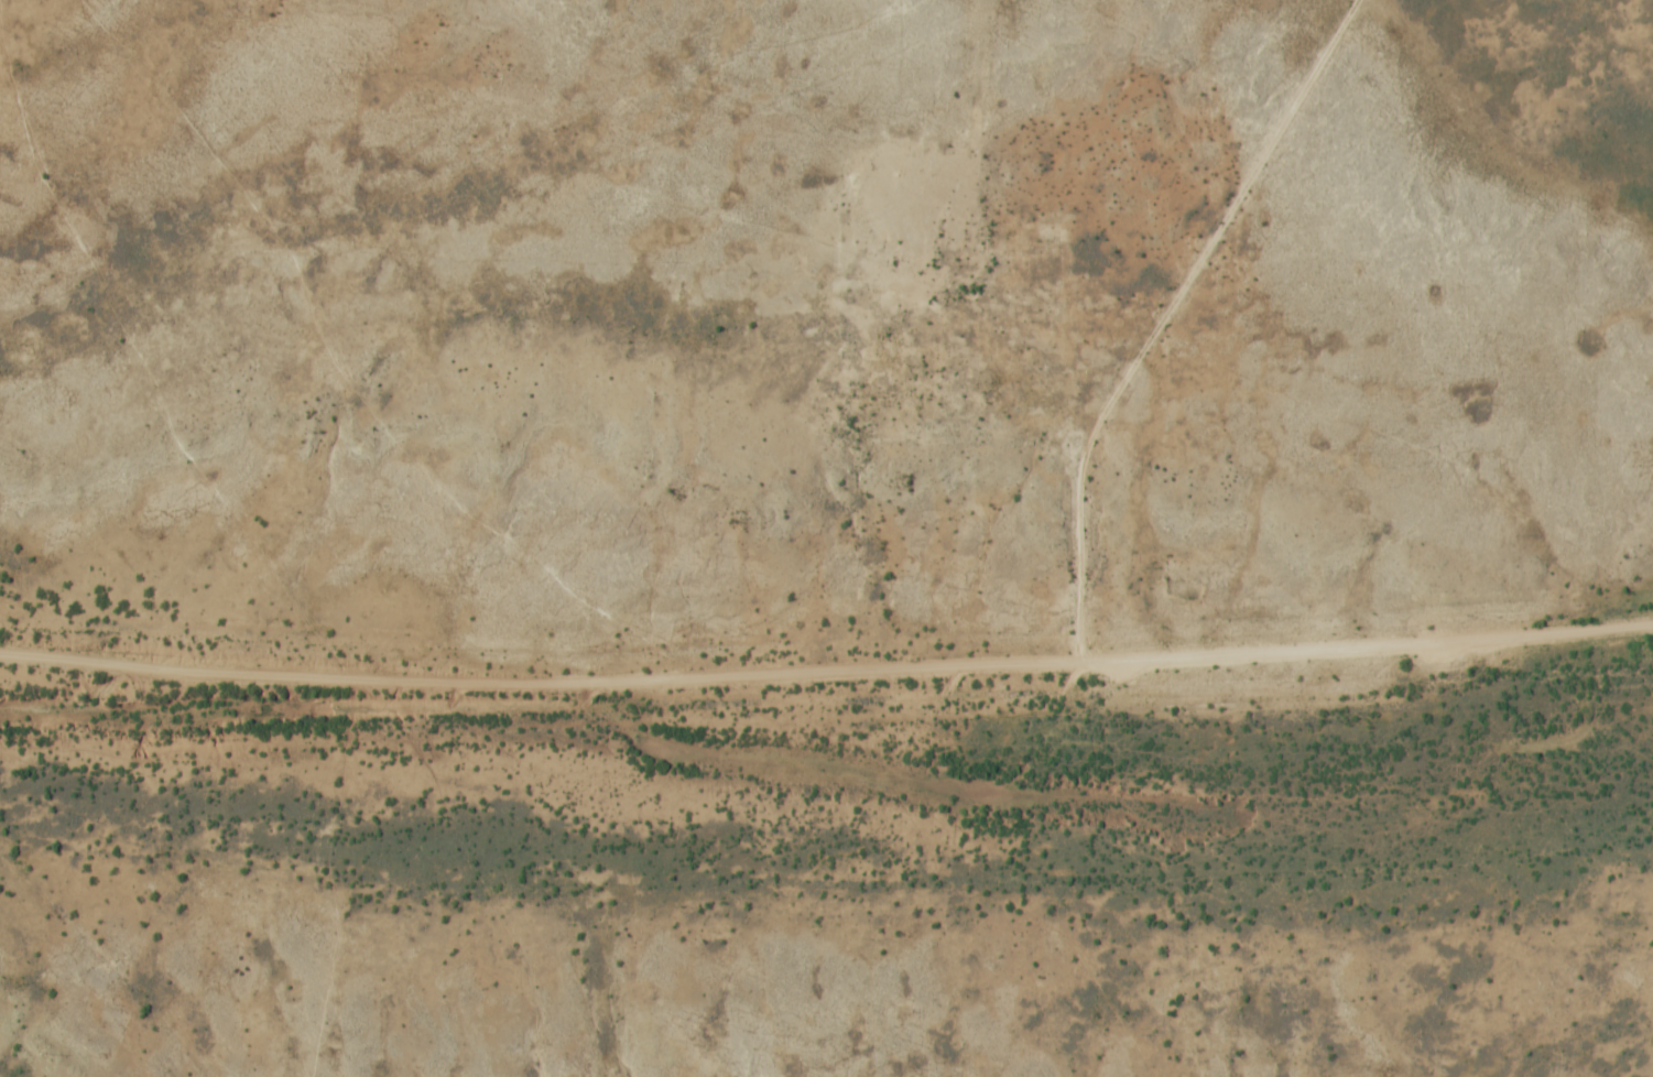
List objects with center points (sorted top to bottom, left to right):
road: (1167, 311)
road: (536, 684)

